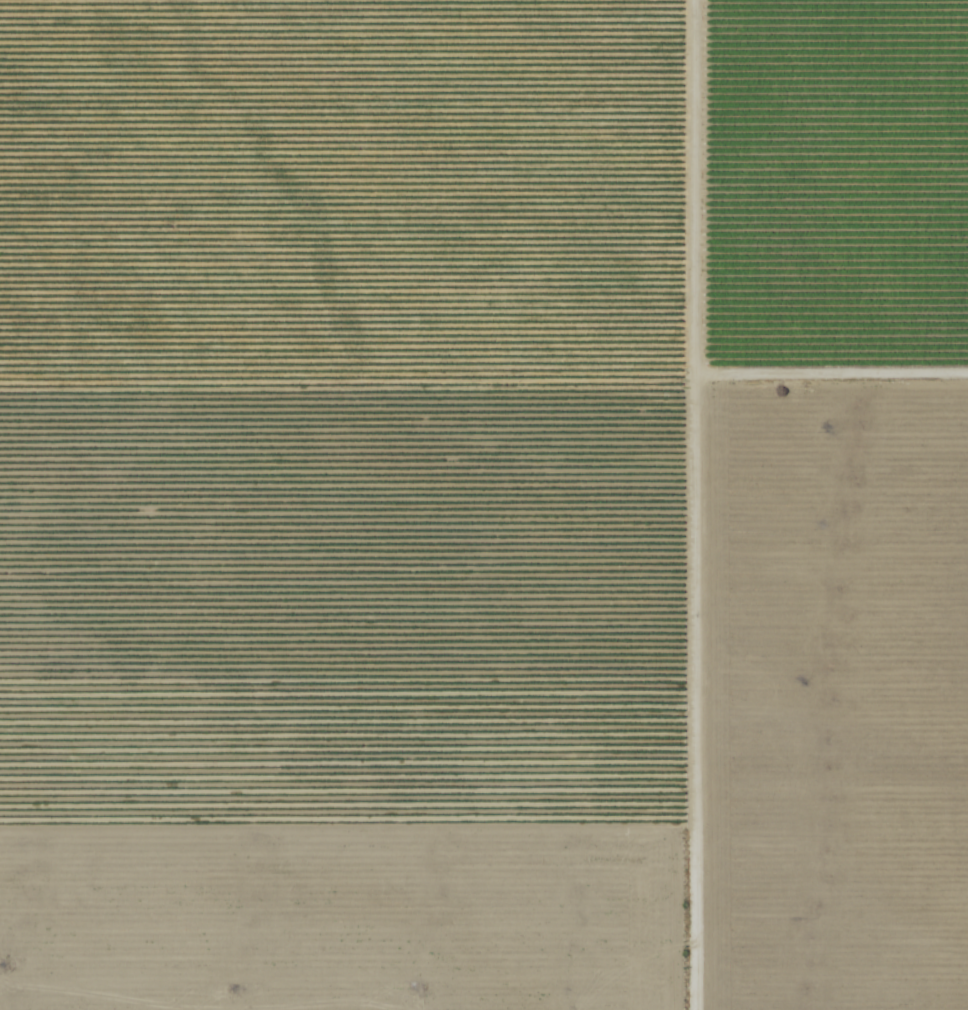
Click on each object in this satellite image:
road: (829, 378)
road: (691, 505)

